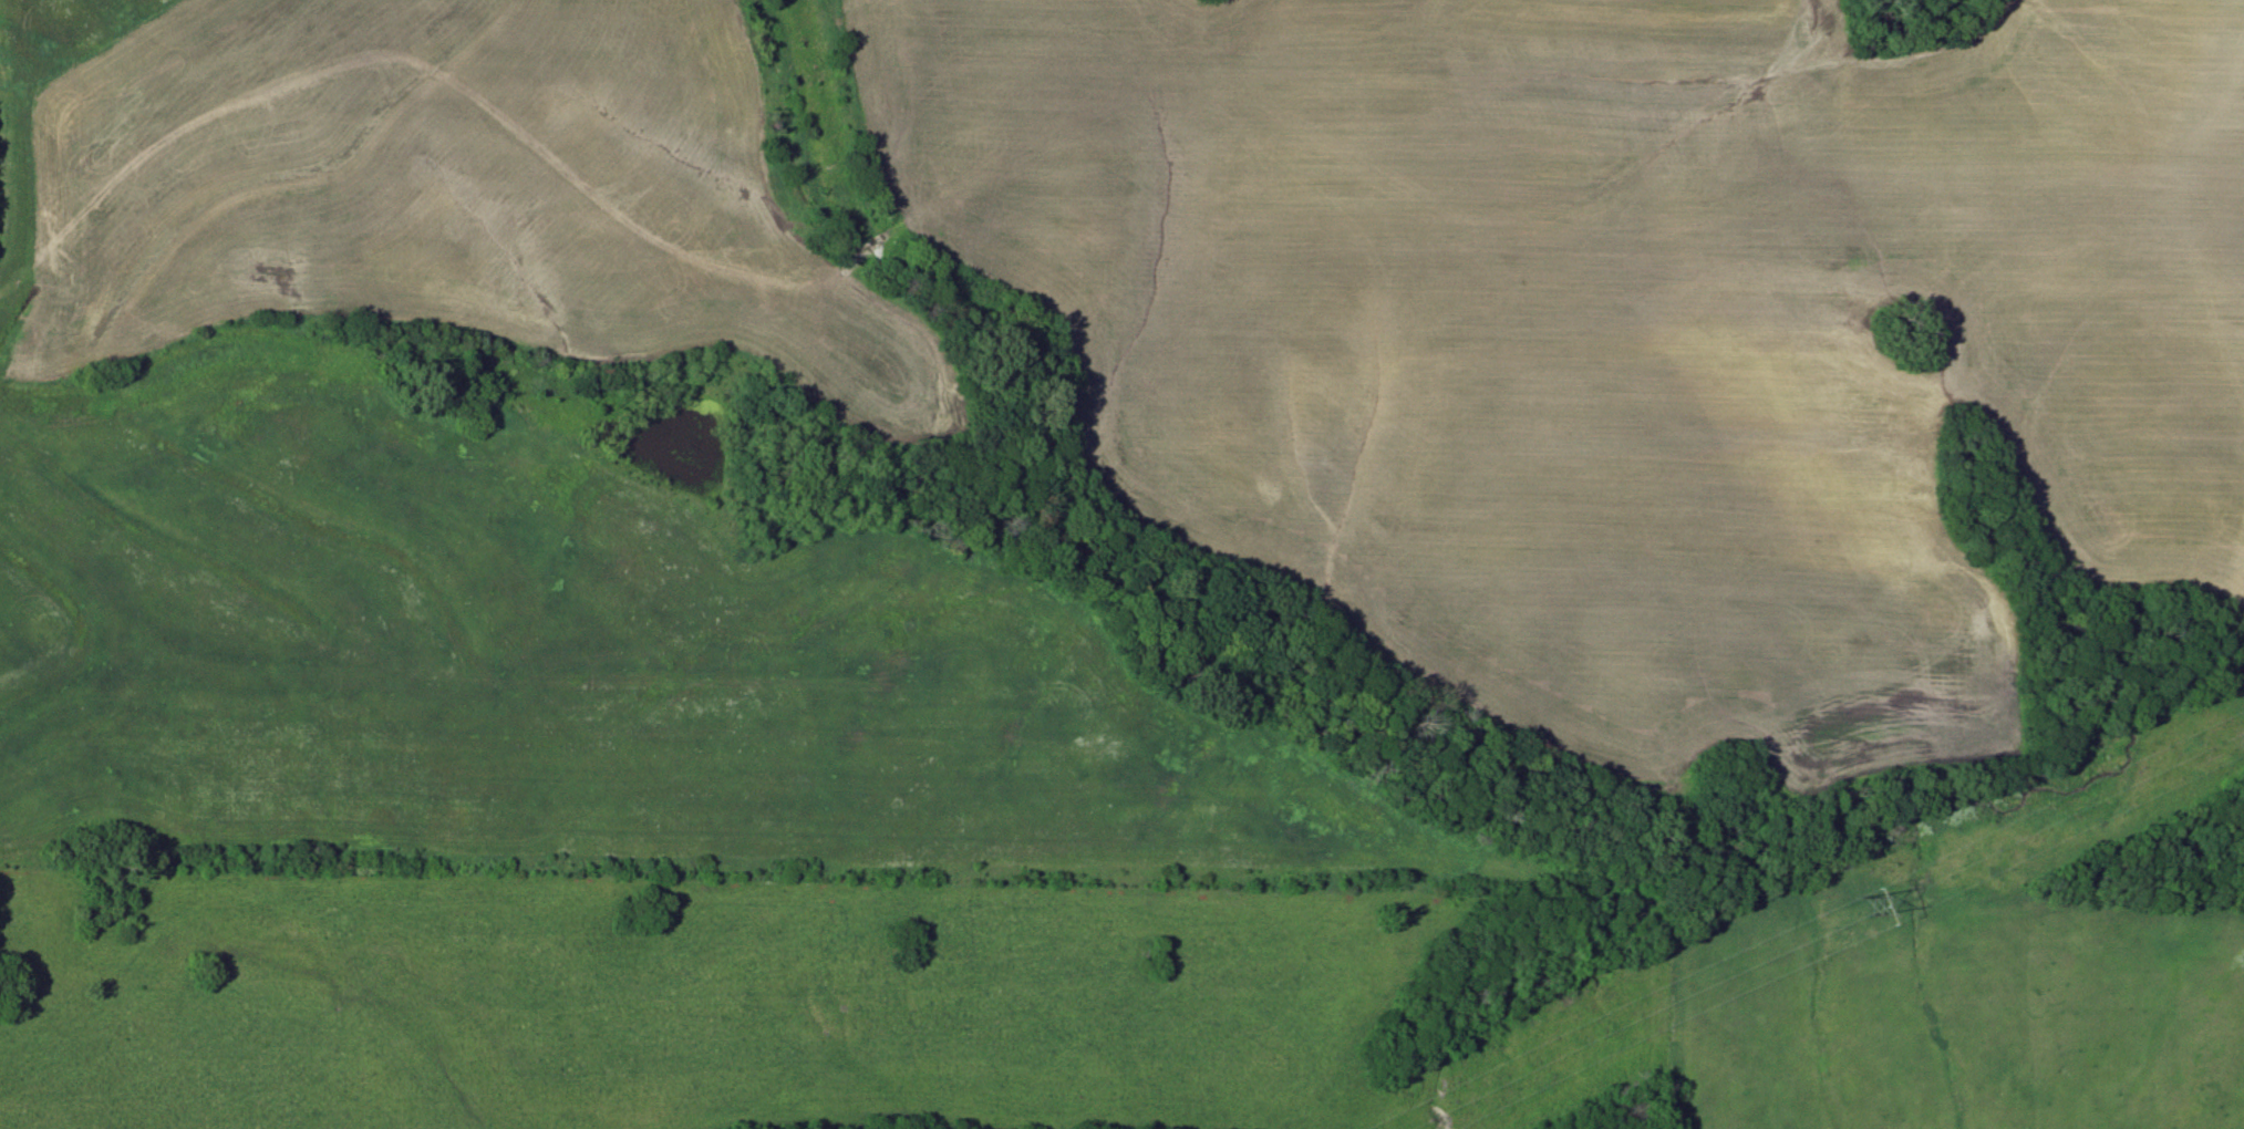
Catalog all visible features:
power tower: (1845, 918)

